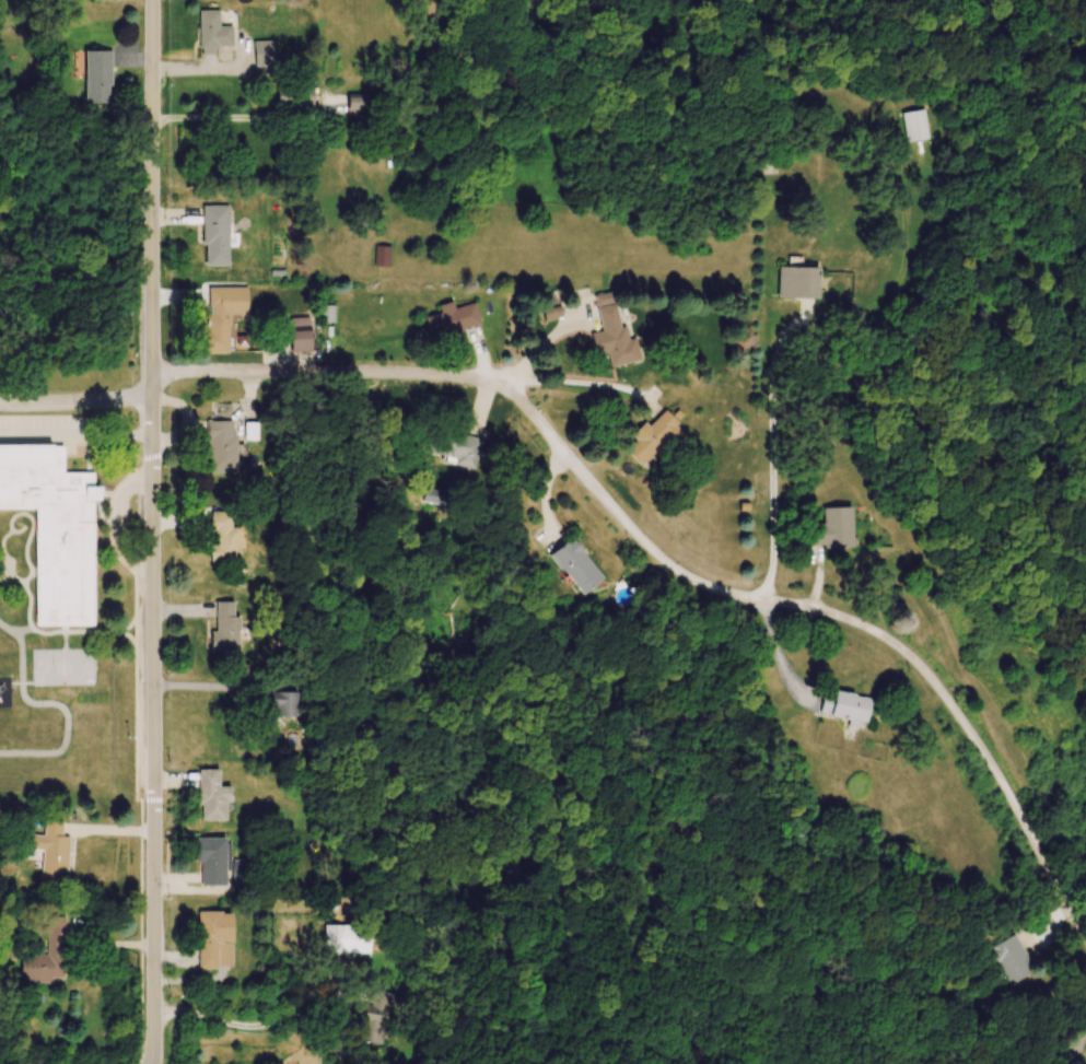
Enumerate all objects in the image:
building: (214, 33)
building: (265, 55)
building: (100, 78)
building: (295, 96)
building: (358, 104)
road: (234, 114)
building: (918, 126)
building: (217, 235)
building: (383, 256)
building: (799, 283)
building: (328, 314)
building: (221, 317)
building: (453, 320)
building: (614, 338)
building: (302, 341)
road: (327, 371)
road: (576, 382)
road: (79, 398)
building: (252, 432)
road: (77, 436)
building: (658, 439)
building: (222, 440)
building: (457, 448)
road: (771, 464)
building: (55, 530)
building: (833, 530)
road: (153, 531)
building: (224, 540)
building: (579, 568)
road: (830, 611)
building: (226, 629)
road: (208, 686)
building: (288, 705)
building: (849, 710)
building: (213, 798)
building: (804, 829)
building: (55, 851)
building: (212, 862)
building: (240, 880)
building: (349, 939)
building: (215, 940)
building: (48, 956)
building: (1008, 961)
building: (379, 1015)
road: (252, 1025)

